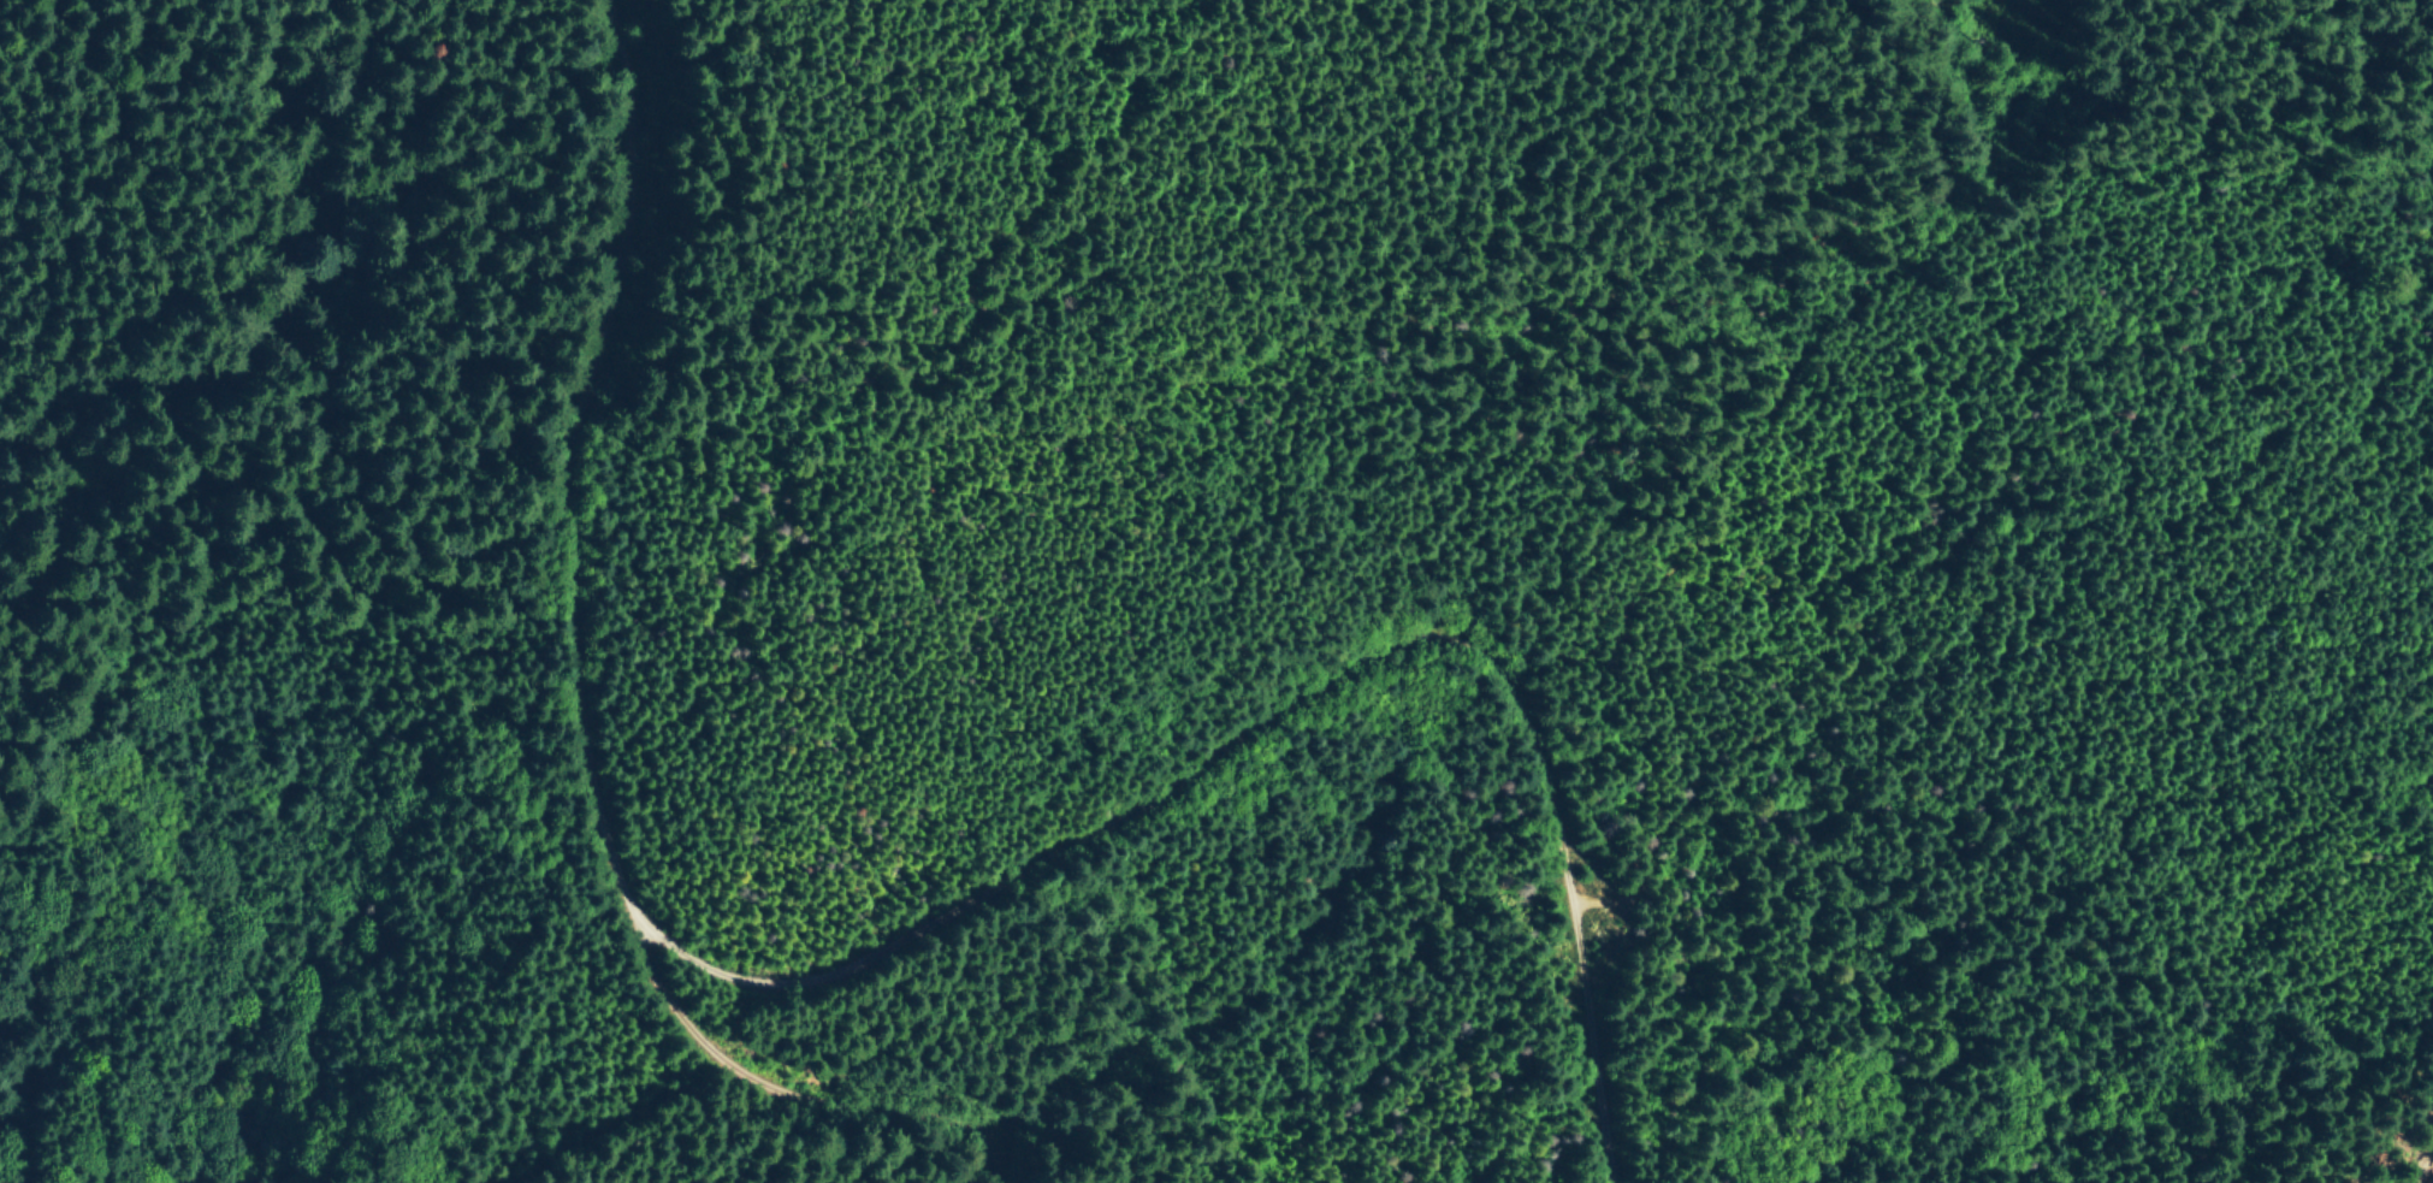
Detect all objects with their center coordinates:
road: (575, 446)
road: (1287, 714)
road: (771, 1106)
road: (2425, 1167)

